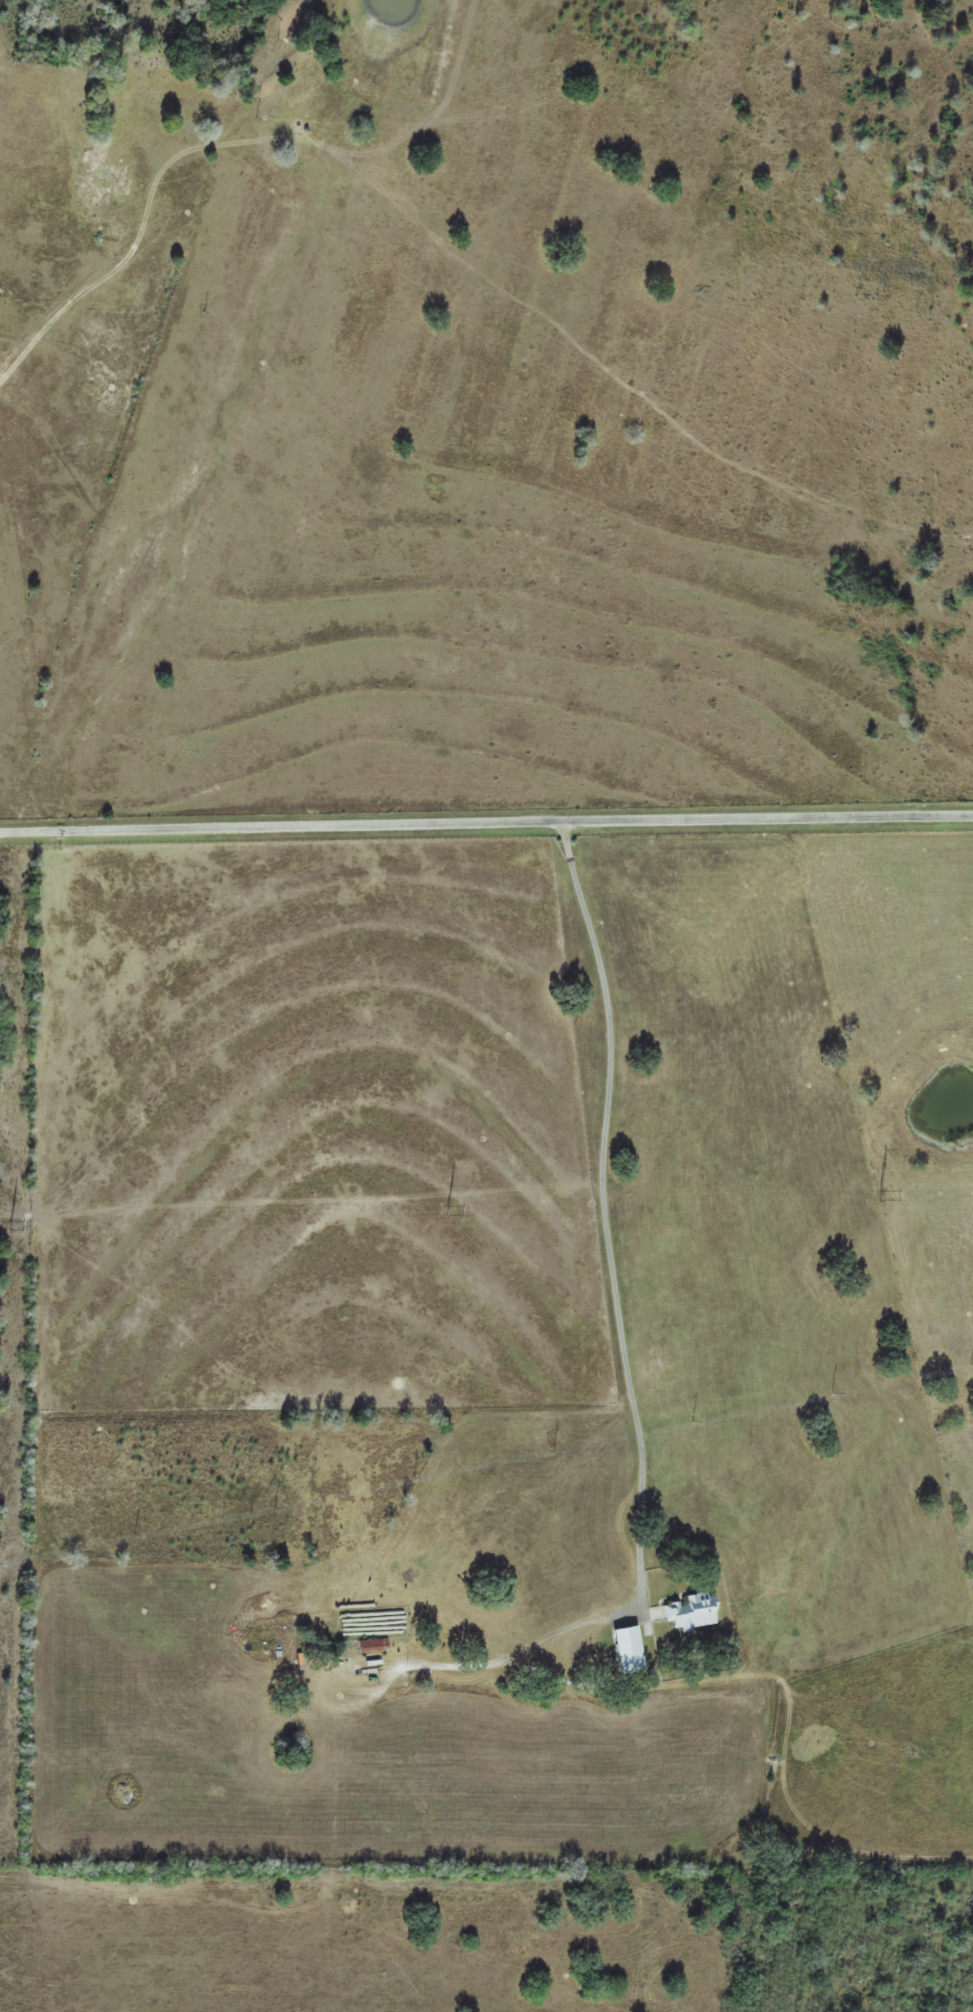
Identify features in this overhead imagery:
road: (486, 818)
road: (966, 823)
power tower: (880, 1193)
power tower: (445, 1207)
power tower: (12, 1224)
building: (689, 1610)
building: (372, 1643)

